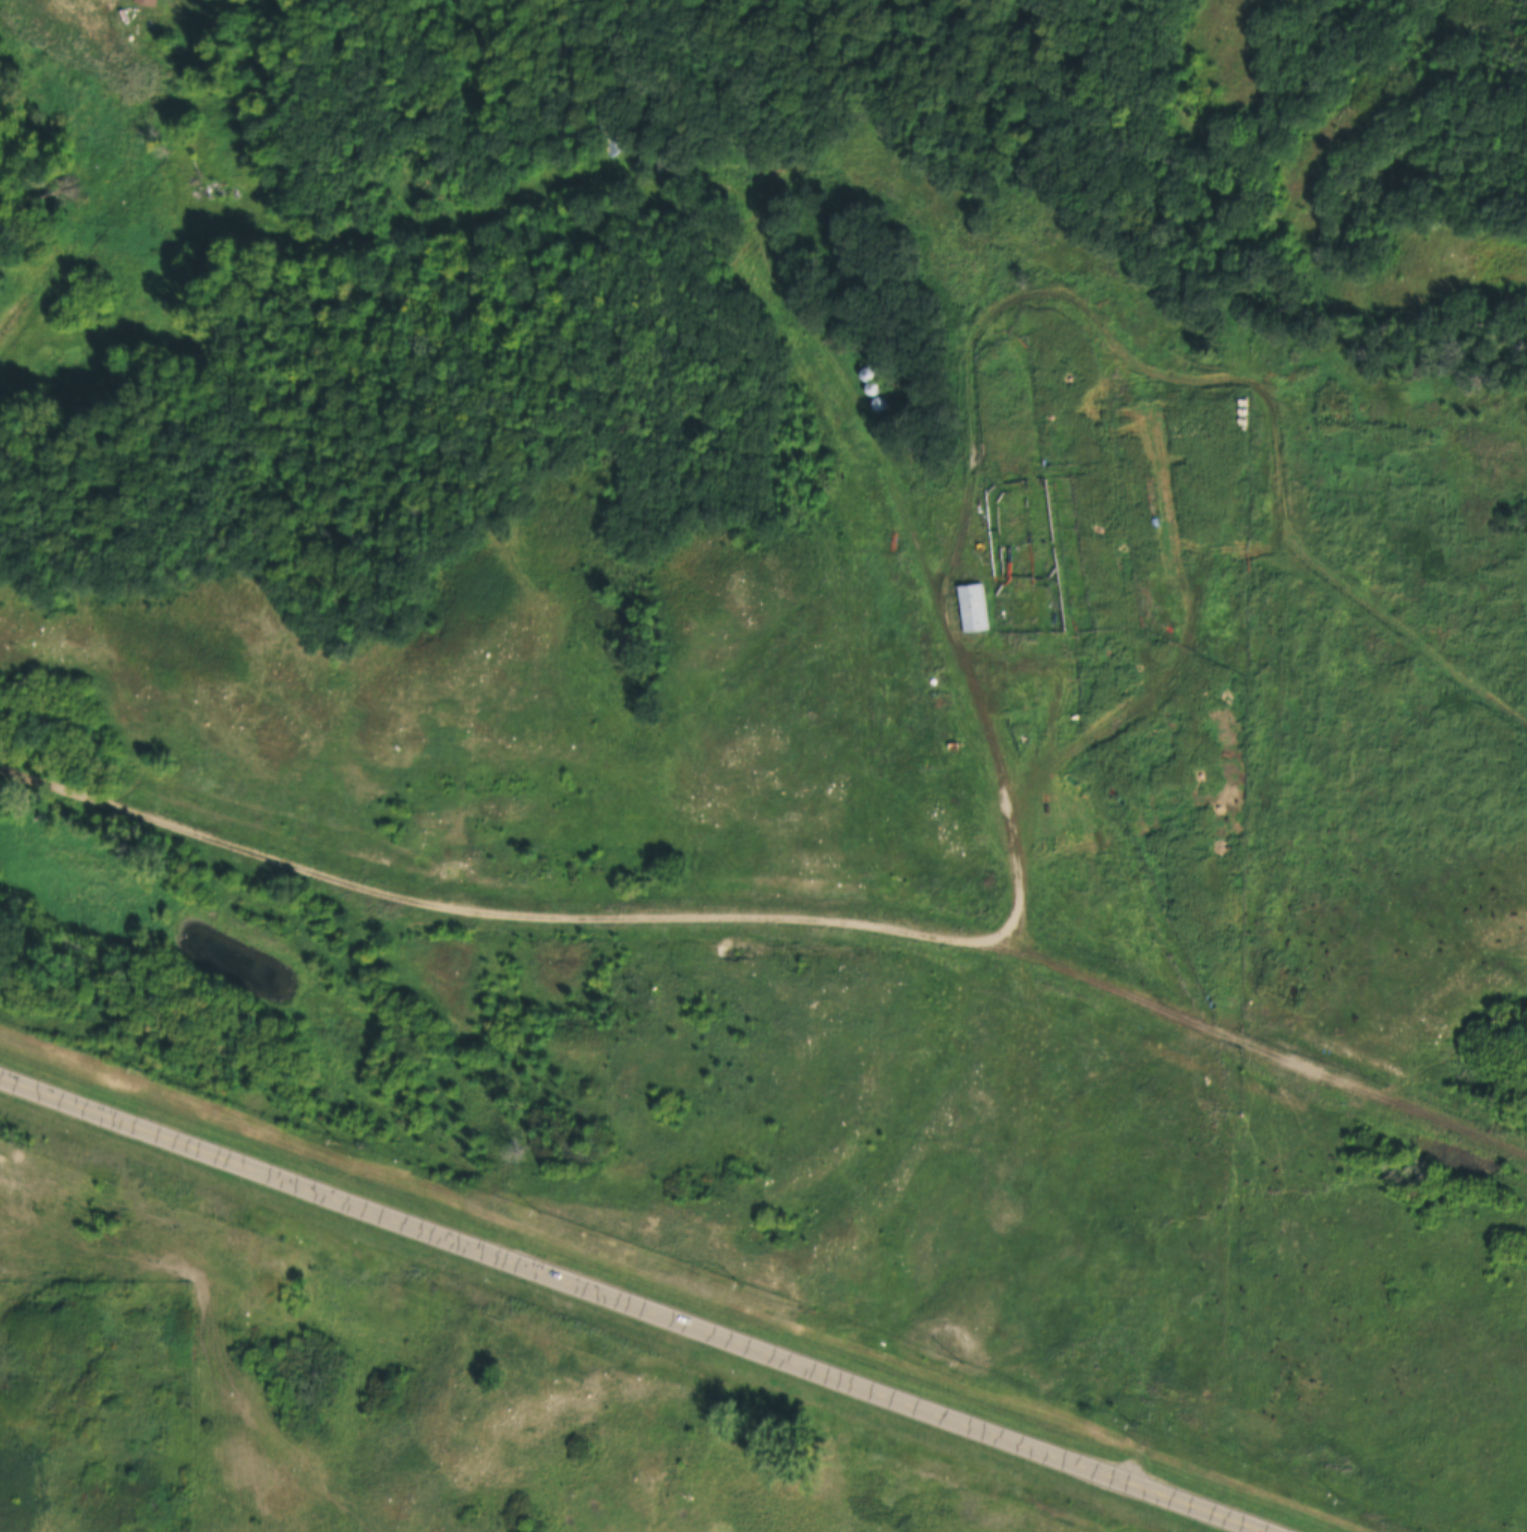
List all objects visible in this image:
building: (161, 1)
building: (573, 132)
building: (613, 134)
building: (871, 373)
building: (877, 387)
building: (883, 403)
building: (975, 607)
road: (648, 912)
road: (638, 1306)

